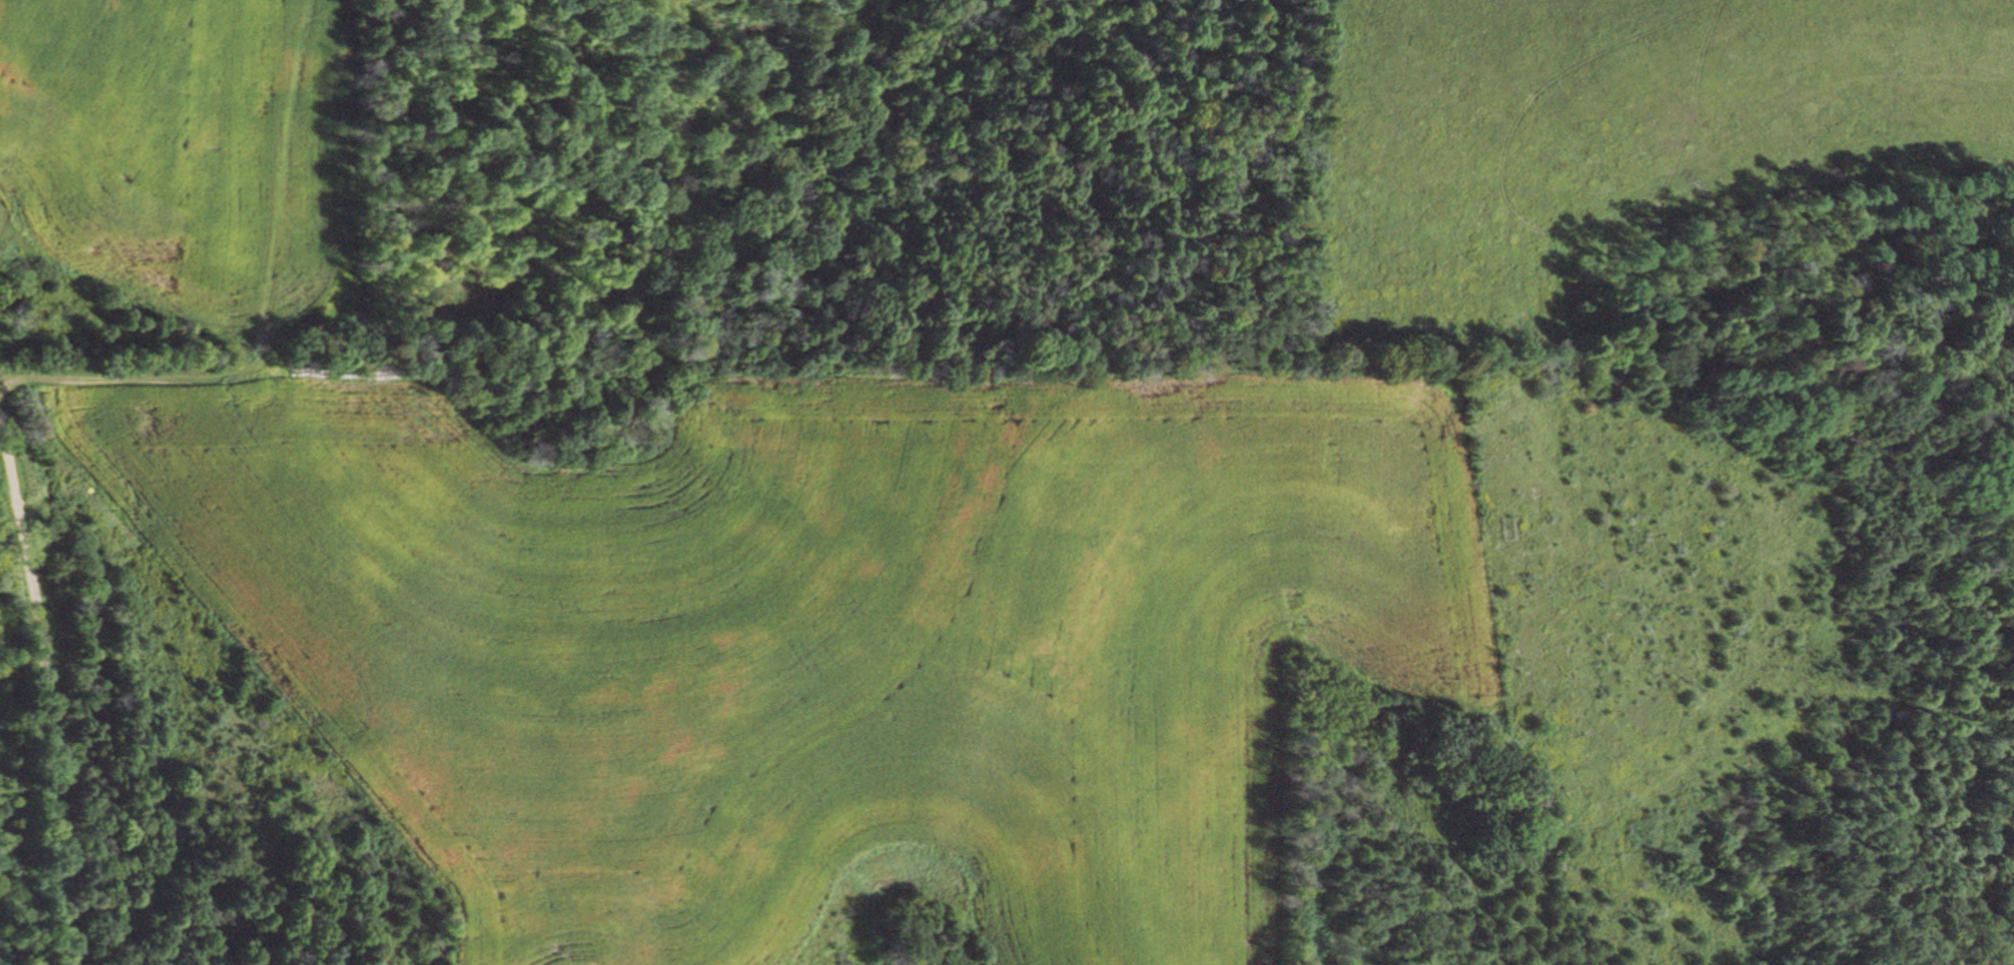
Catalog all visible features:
road: (28, 697)

